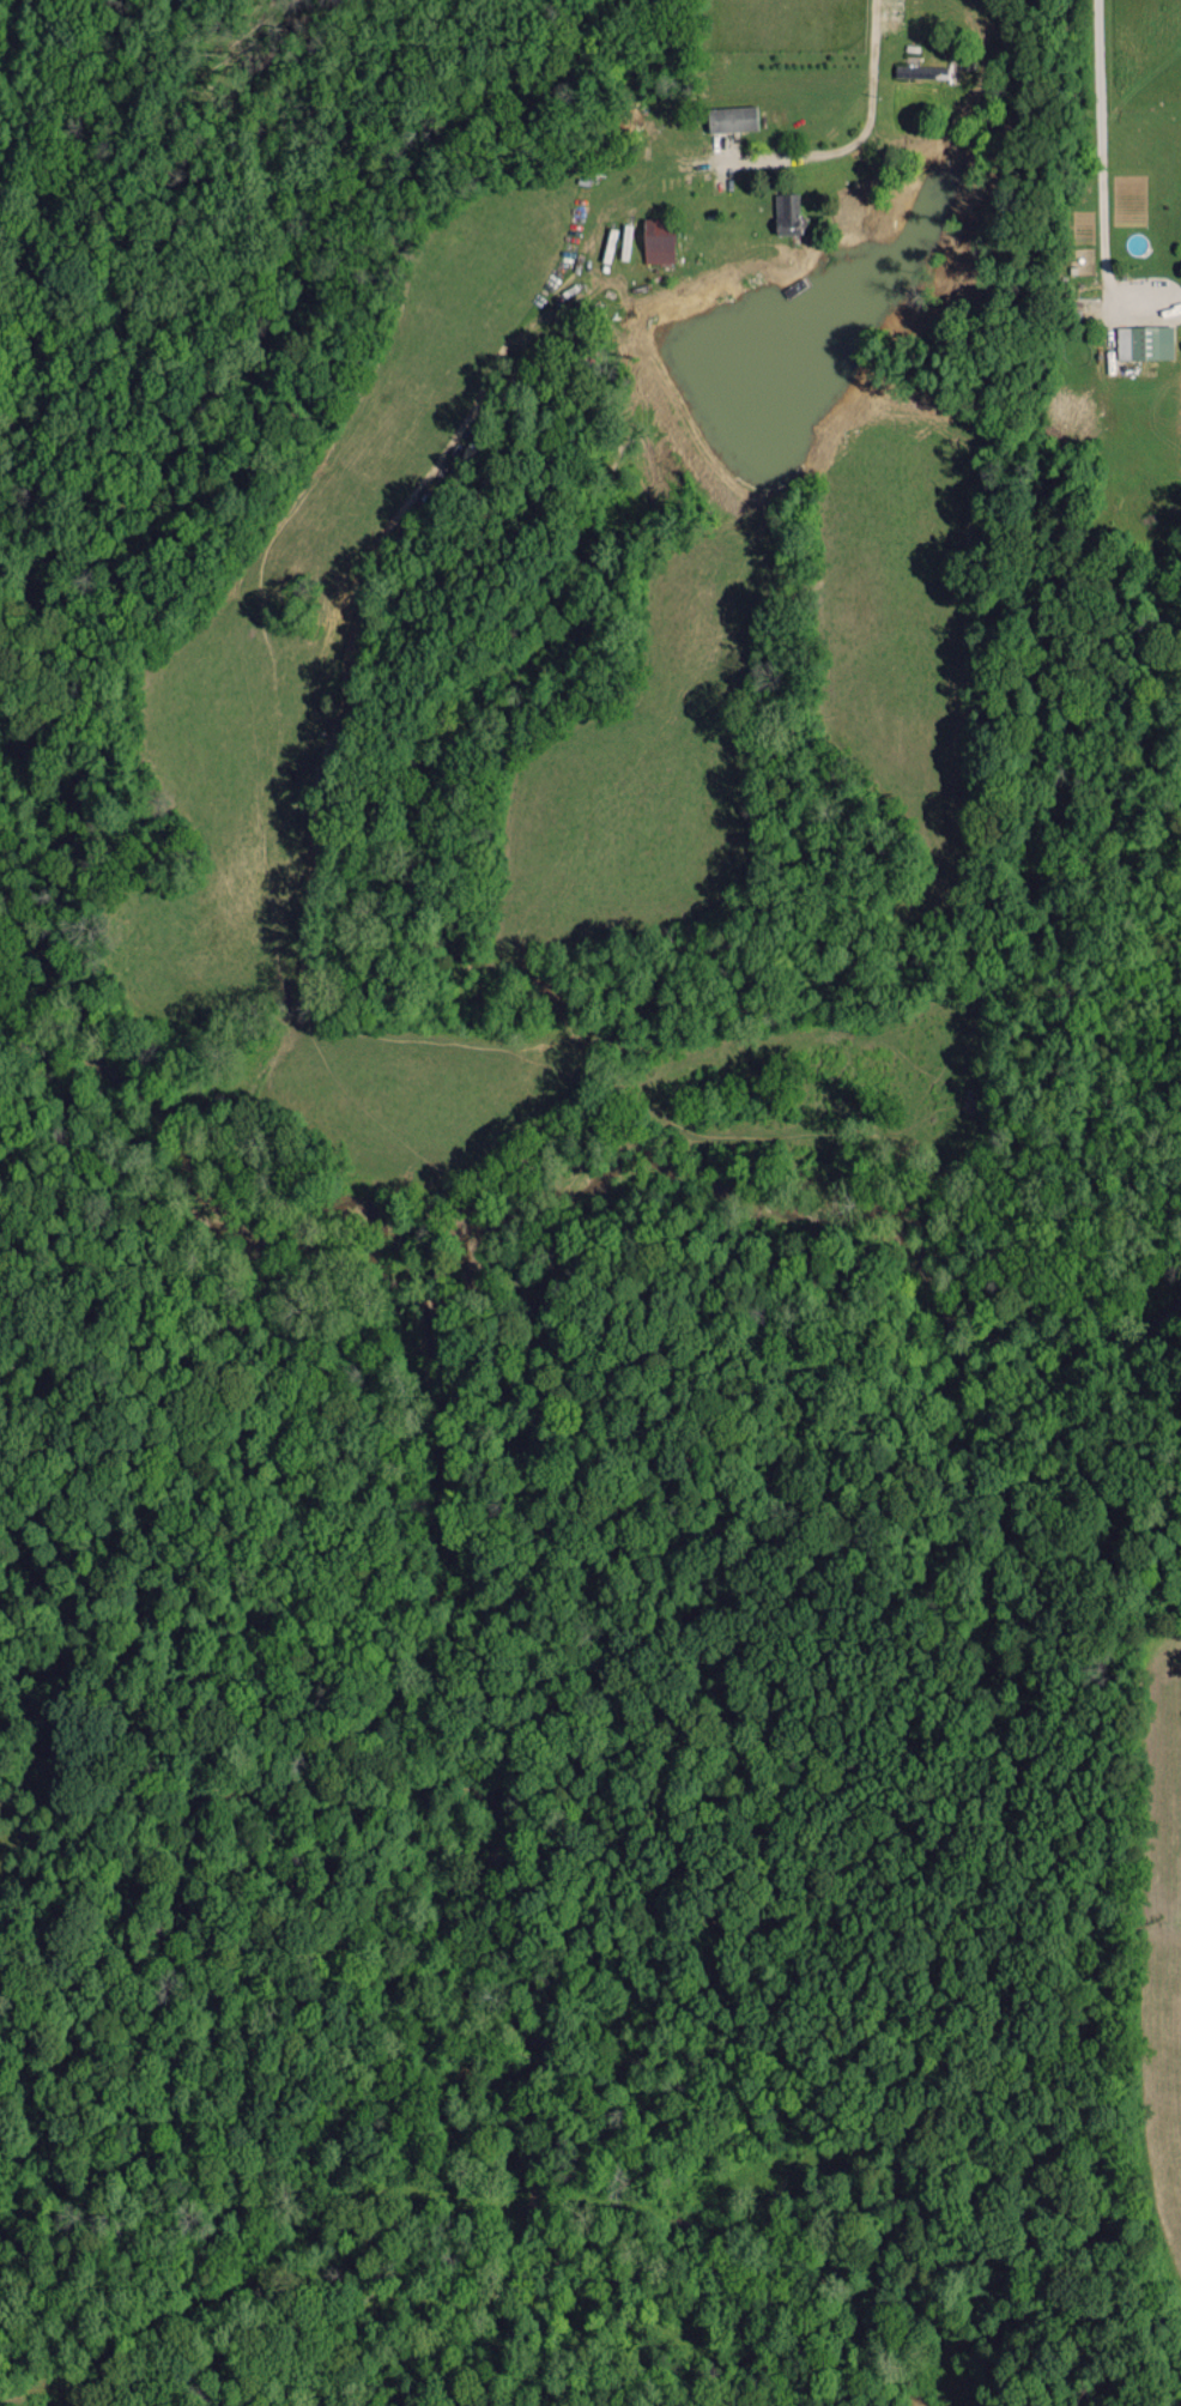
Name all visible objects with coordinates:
building: (921, 71)
building: (731, 117)
road: (825, 146)
road: (1102, 170)
building: (786, 212)
building: (658, 240)
building: (1144, 341)

